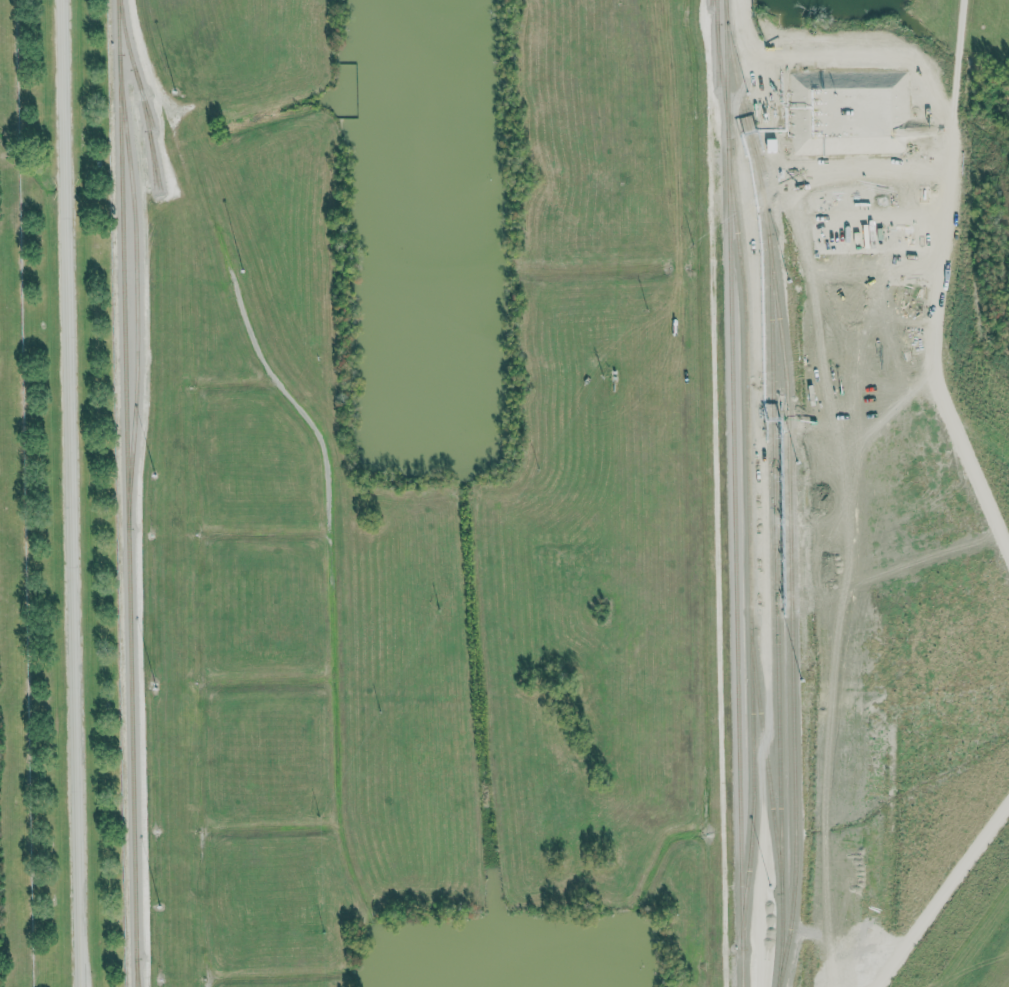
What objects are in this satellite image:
railway: (711, 2)
railway: (727, 26)
railway: (717, 54)
railway: (721, 69)
railway: (726, 69)
road: (835, 69)
railway: (140, 93)
railway: (143, 97)
railway: (154, 158)
road: (675, 197)
road: (939, 281)
railway: (136, 290)
road: (70, 493)
railway: (127, 493)
railway: (735, 562)
railway: (136, 973)
railway: (746, 975)

